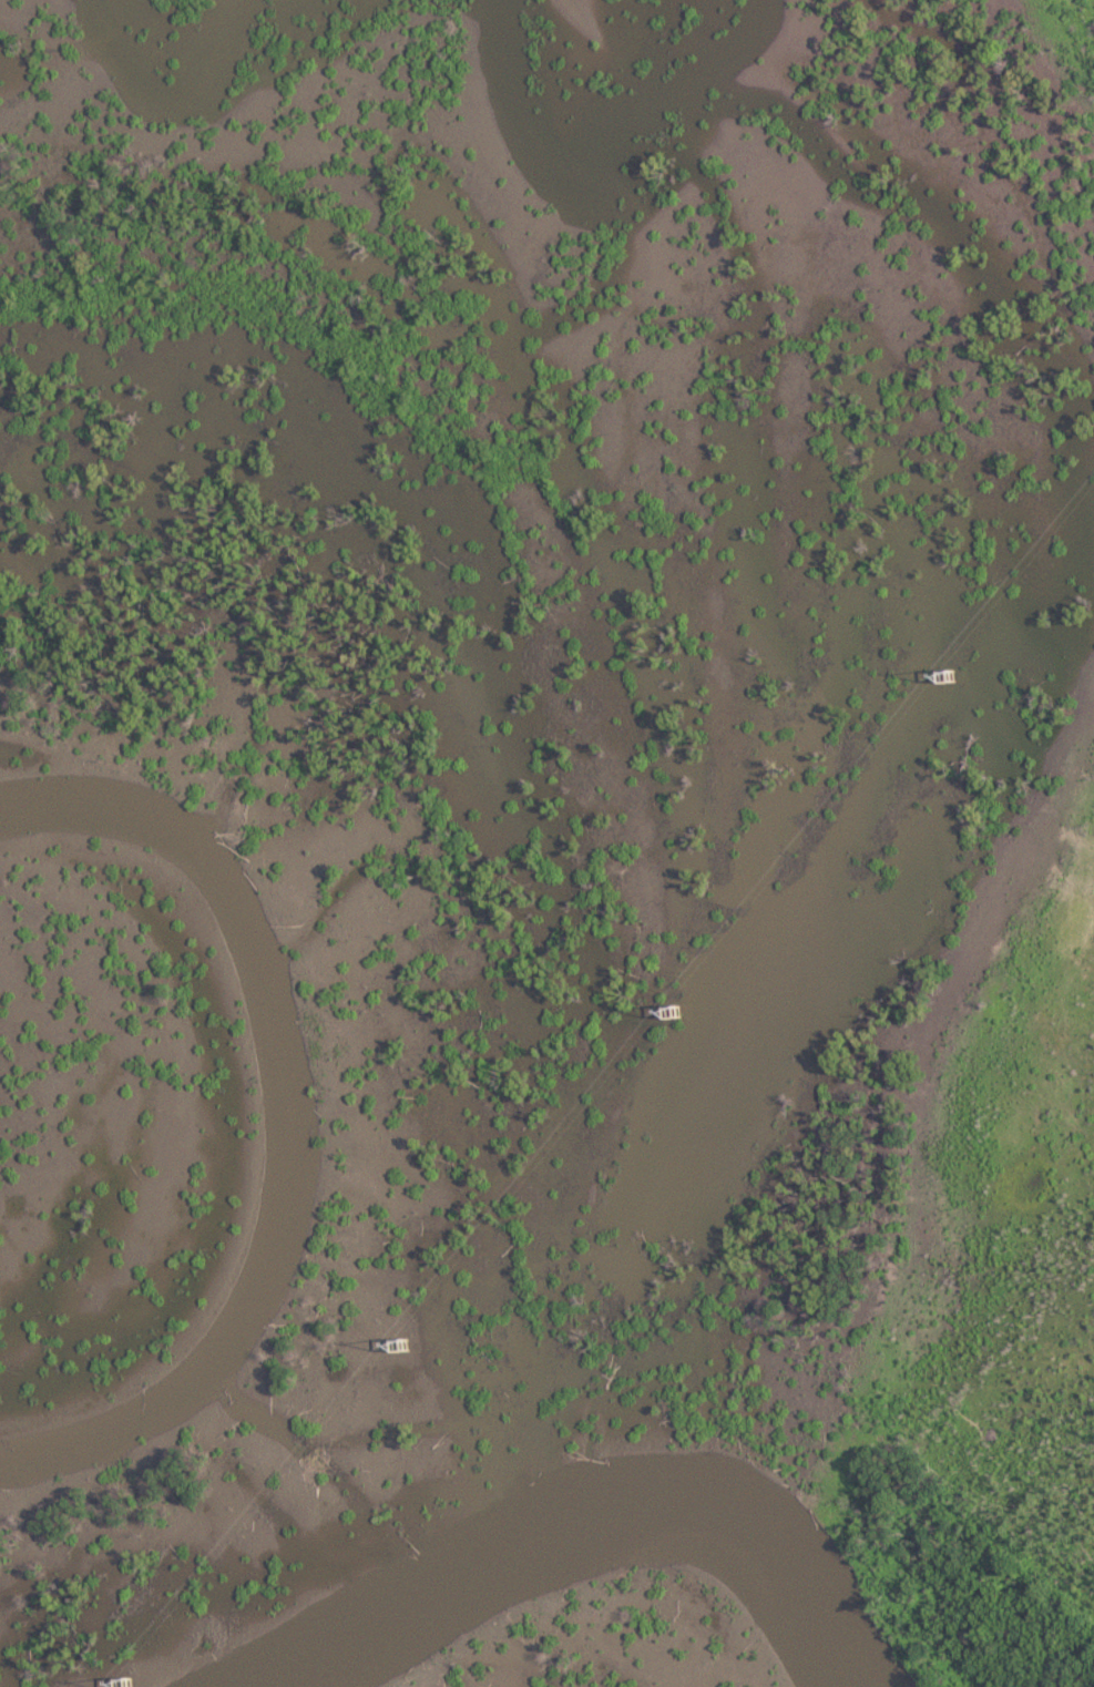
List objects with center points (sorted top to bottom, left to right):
river: (584, 1521)

